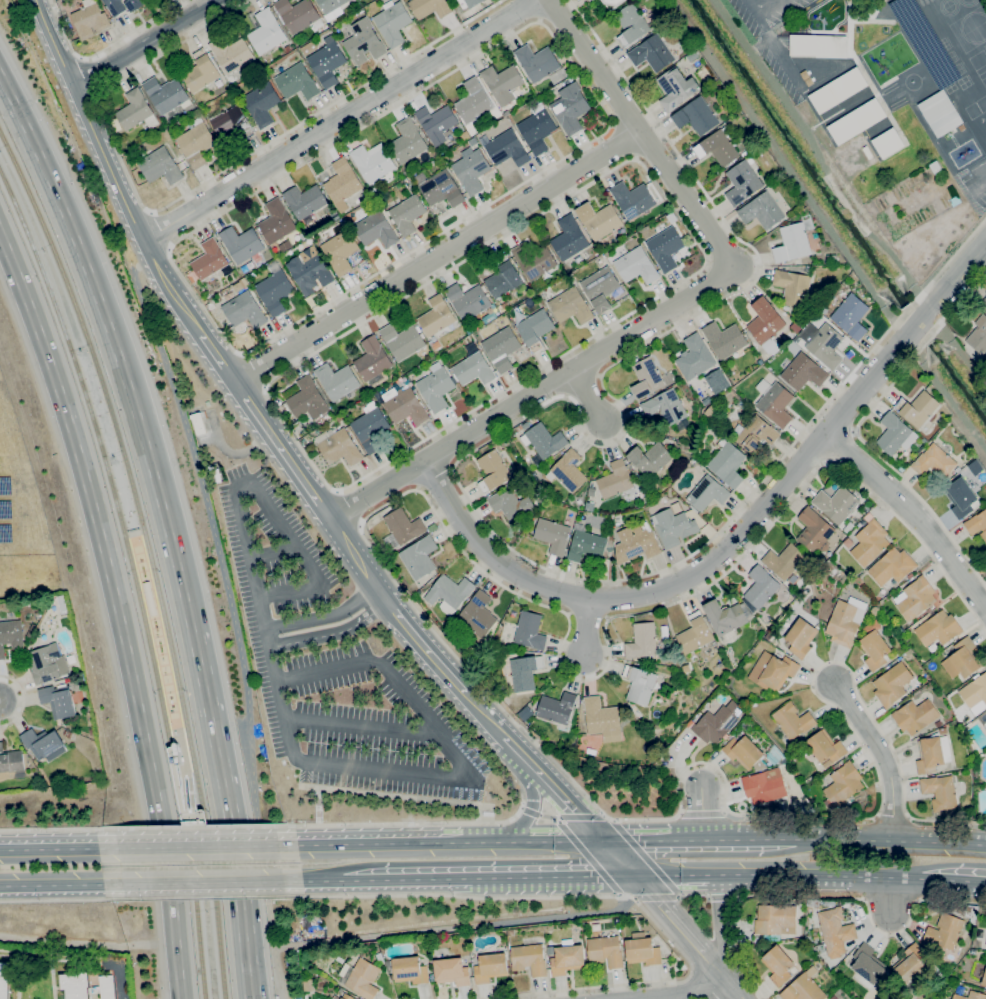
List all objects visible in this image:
building: (589, 0)
building: (473, 2)
building: (614, 3)
building: (134, 4)
building: (116, 7)
building: (331, 8)
building: (430, 8)
road: (762, 9)
road: (531, 10)
building: (299, 14)
building: (91, 19)
building: (392, 22)
building: (631, 24)
building: (266, 31)
building: (364, 41)
building: (924, 42)
road: (144, 43)
building: (819, 46)
building: (309, 47)
park: (984, 47)
road: (104, 48)
building: (557, 52)
building: (232, 53)
building: (652, 53)
road: (779, 53)
building: (328, 62)
building: (537, 62)
park: (979, 66)
building: (201, 71)
park: (911, 81)
building: (297, 82)
building: (502, 83)
building: (676, 88)
building: (838, 90)
building: (167, 94)
building: (473, 101)
building: (262, 103)
park: (976, 107)
building: (570, 108)
building: (137, 111)
building: (941, 113)
building: (696, 116)
building: (231, 121)
road: (339, 121)
building: (856, 121)
building: (437, 122)
road: (609, 125)
building: (537, 129)
road: (92, 131)
building: (465, 135)
road: (953, 139)
building: (407, 141)
building: (473, 141)
road: (622, 141)
building: (196, 142)
building: (887, 143)
building: (718, 147)
building: (507, 149)
building: (867, 151)
building: (373, 161)
building: (160, 166)
building: (936, 169)
building: (472, 171)
road: (979, 178)
building: (742, 182)
building: (343, 183)
building: (439, 188)
road: (192, 190)
building: (632, 199)
building: (305, 200)
building: (762, 211)
building: (406, 214)
building: (600, 220)
building: (277, 221)
building: (376, 229)
road: (161, 230)
building: (569, 238)
building: (242, 243)
building: (792, 243)
building: (665, 248)
building: (340, 251)
road: (436, 257)
building: (831, 257)
building: (533, 260)
building: (211, 261)
road: (705, 262)
building: (636, 266)
building: (310, 271)
building: (193, 276)
building: (503, 278)
building: (791, 287)
building: (600, 288)
building: (275, 289)
road: (177, 298)
building: (468, 300)
building: (984, 302)
building: (571, 306)
road: (670, 307)
building: (785, 307)
building: (244, 309)
building: (436, 316)
building: (851, 316)
building: (489, 317)
building: (766, 325)
building: (795, 327)
building: (535, 329)
building: (977, 334)
building: (434, 339)
building: (724, 339)
building: (402, 340)
road: (113, 343)
building: (436, 345)
building: (825, 346)
building: (501, 348)
building: (694, 357)
road: (217, 359)
building: (373, 360)
building: (760, 362)
road: (253, 370)
building: (473, 370)
building: (803, 372)
building: (646, 378)
road: (896, 379)
building: (338, 380)
building: (436, 387)
road: (587, 397)
building: (309, 399)
building: (774, 402)
building: (403, 405)
building: (667, 409)
building: (710, 411)
building: (919, 411)
building: (198, 422)
building: (370, 426)
building: (757, 434)
building: (895, 434)
building: (543, 440)
road: (485, 443)
building: (917, 444)
road: (841, 447)
building: (340, 448)
road: (281, 451)
building: (650, 458)
building: (934, 463)
building: (727, 464)
building: (957, 469)
building: (493, 471)
building: (568, 471)
building: (615, 480)
road: (436, 481)
road: (243, 485)
solar farm: (18, 492)
building: (707, 493)
building: (961, 497)
building: (578, 501)
building: (510, 504)
building: (836, 504)
road: (350, 507)
road: (916, 514)
building: (617, 523)
building: (977, 524)
building: (401, 527)
building: (673, 527)
building: (848, 527)
building: (814, 531)
railway: (141, 534)
road: (285, 534)
road: (948, 534)
building: (553, 536)
road: (735, 537)
building: (870, 541)
building: (636, 545)
building: (586, 546)
road: (273, 553)
railway: (149, 555)
road: (355, 556)
building: (419, 557)
building: (784, 561)
building: (892, 566)
railway: (135, 576)
building: (761, 587)
road: (290, 592)
building: (449, 593)
building: (150, 598)
building: (915, 598)
building: (62, 604)
road: (117, 609)
building: (875, 611)
building: (478, 614)
road: (326, 616)
building: (726, 616)
road: (233, 619)
road: (266, 623)
building: (845, 623)
road: (429, 626)
building: (938, 629)
building: (530, 631)
road: (584, 631)
road: (333, 633)
building: (695, 634)
building: (10, 636)
building: (801, 638)
building: (642, 641)
road: (421, 644)
building: (874, 646)
building: (962, 659)
building: (47, 663)
parking lot: (338, 669)
building: (525, 671)
building: (772, 671)
road: (394, 679)
building: (642, 684)
building: (892, 685)
building: (975, 694)
road: (22, 700)
building: (58, 700)
building: (752, 704)
road: (207, 708)
building: (556, 708)
road: (484, 714)
building: (915, 716)
building: (602, 720)
building: (793, 721)
building: (716, 723)
building: (938, 723)
building: (745, 724)
road: (361, 725)
building: (651, 734)
building: (42, 742)
building: (825, 747)
road: (184, 751)
building: (591, 751)
road: (520, 753)
building: (745, 753)
building: (933, 753)
building: (774, 755)
road: (884, 755)
road: (181, 756)
building: (11, 760)
road: (384, 769)
road: (184, 771)
building: (842, 785)
building: (765, 786)
building: (941, 791)
road: (398, 796)
road: (180, 797)
road: (569, 803)
road: (531, 809)
road: (724, 810)
road: (529, 811)
road: (701, 812)
road: (701, 813)
road: (548, 815)
road: (584, 817)
road: (412, 824)
road: (194, 828)
road: (56, 829)
road: (635, 838)
road: (732, 838)
traffic signals: (601, 839)
road: (554, 840)
road: (889, 840)
road: (485, 841)
road: (369, 843)
road: (196, 846)
road: (58, 849)
road: (593, 857)
road: (619, 857)
road: (645, 857)
road: (554, 876)
traffic signals: (638, 876)
road: (780, 876)
road: (406, 879)
road: (954, 880)
road: (312, 881)
road: (202, 883)
road: (61, 886)
road: (890, 893)
road: (203, 895)
road: (239, 896)
road: (611, 896)
road: (654, 896)
road: (694, 896)
road: (723, 897)
road: (828, 899)
road: (61, 900)
building: (964, 912)
building: (779, 920)
road: (721, 926)
road: (454, 927)
road: (681, 927)
building: (835, 931)
building: (945, 932)
road: (87, 942)
building: (985, 944)
building: (928, 949)
building: (550, 950)
building: (606, 951)
building: (643, 951)
road: (51, 957)
building: (380, 958)
building: (567, 958)
building: (529, 959)
building: (910, 963)
building: (779, 966)
building: (490, 967)
building: (867, 967)
building: (409, 970)
building: (451, 971)
road: (119, 972)
building: (6, 978)
building: (360, 978)
building: (984, 980)
building: (75, 985)
building: (308, 985)
building: (107, 987)
building: (804, 987)
road: (732, 988)
road: (689, 994)
building: (970, 996)
building: (343, 997)
building: (834, 997)

